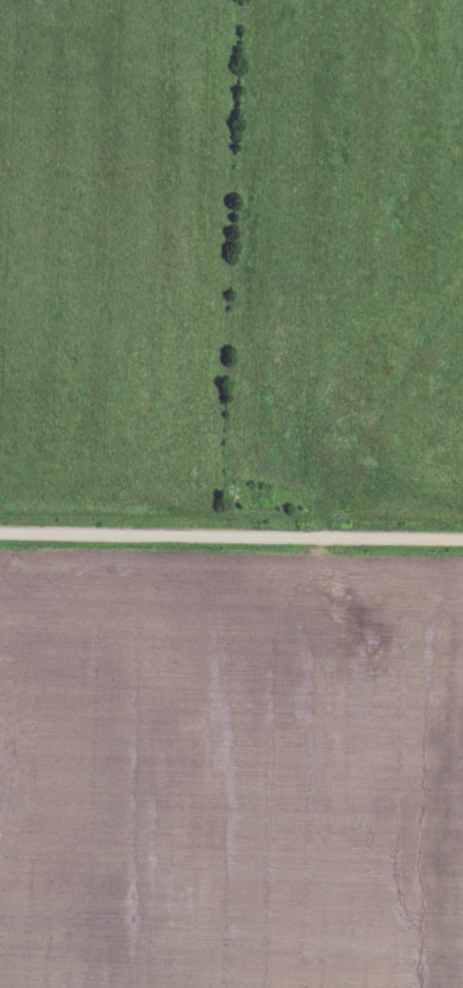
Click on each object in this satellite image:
road: (231, 533)

